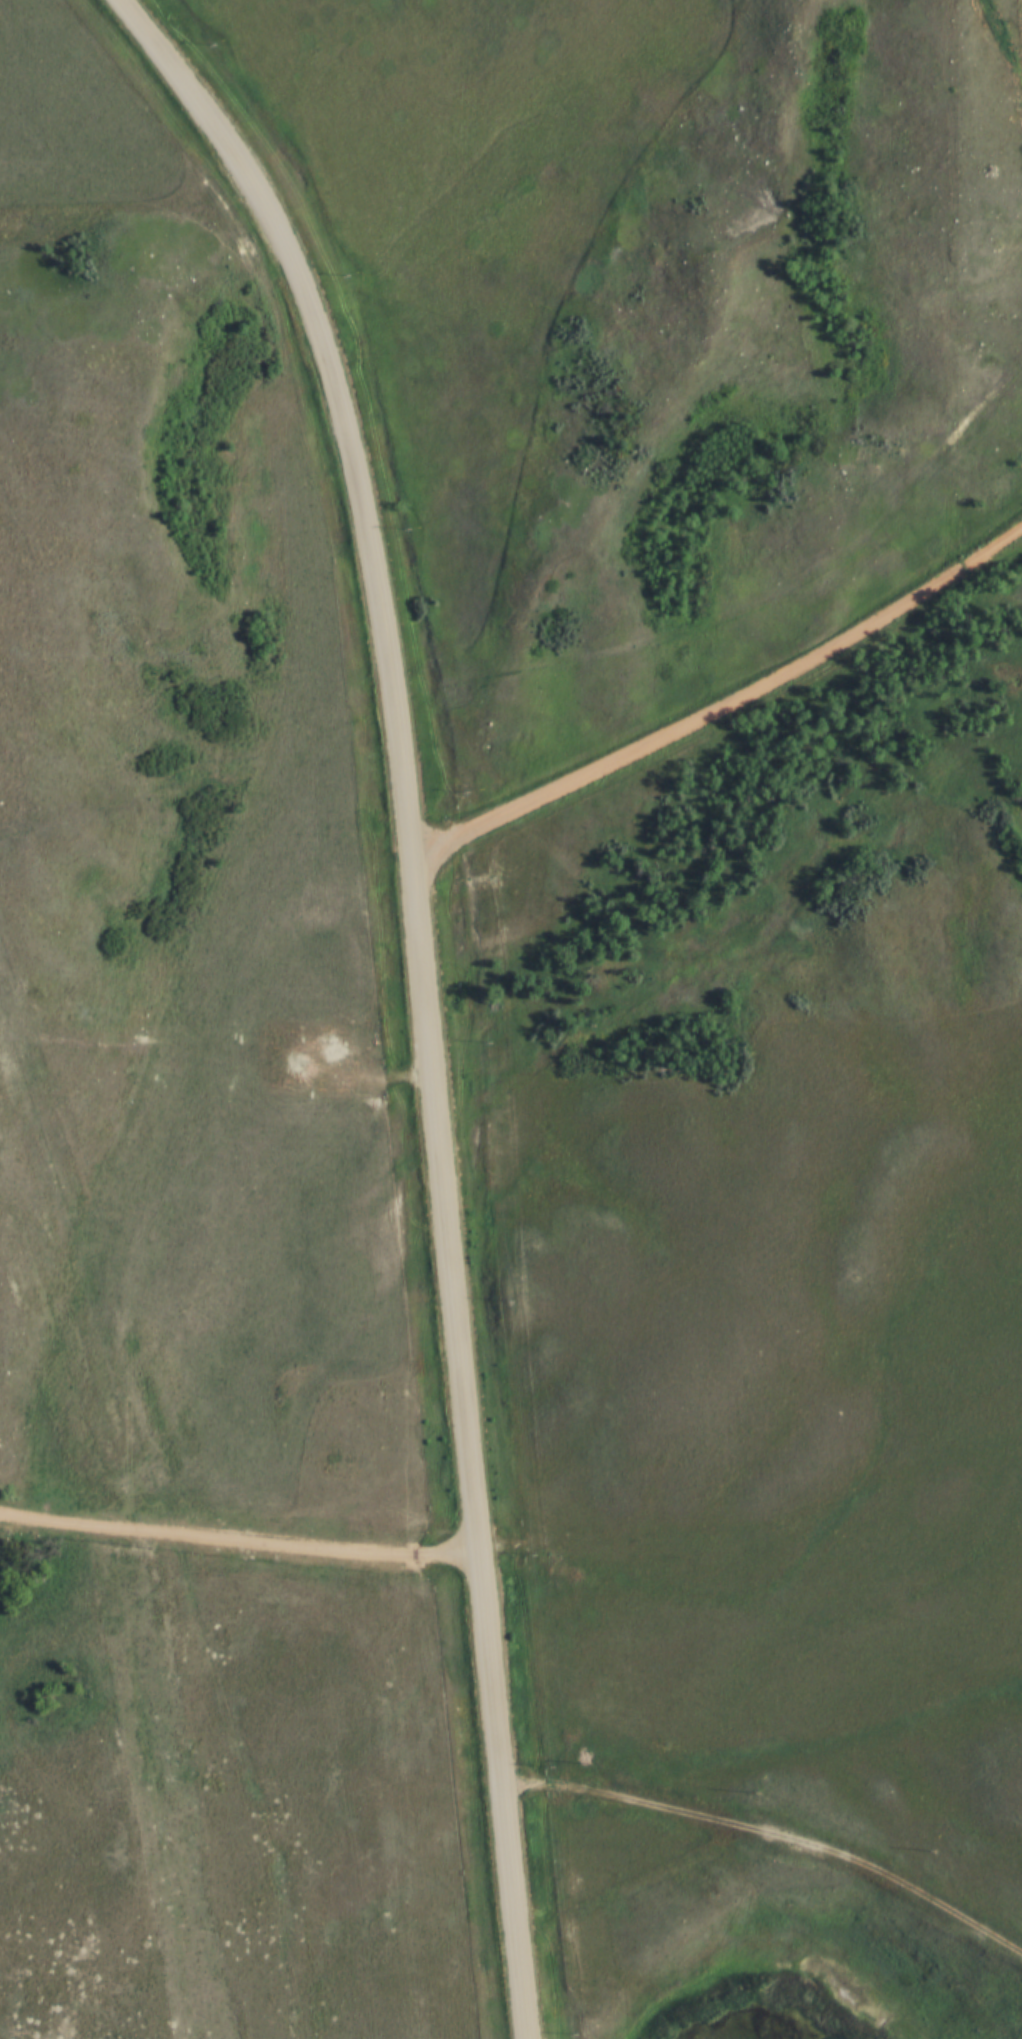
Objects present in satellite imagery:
road: (723, 705)
road: (419, 988)
road: (238, 1541)

